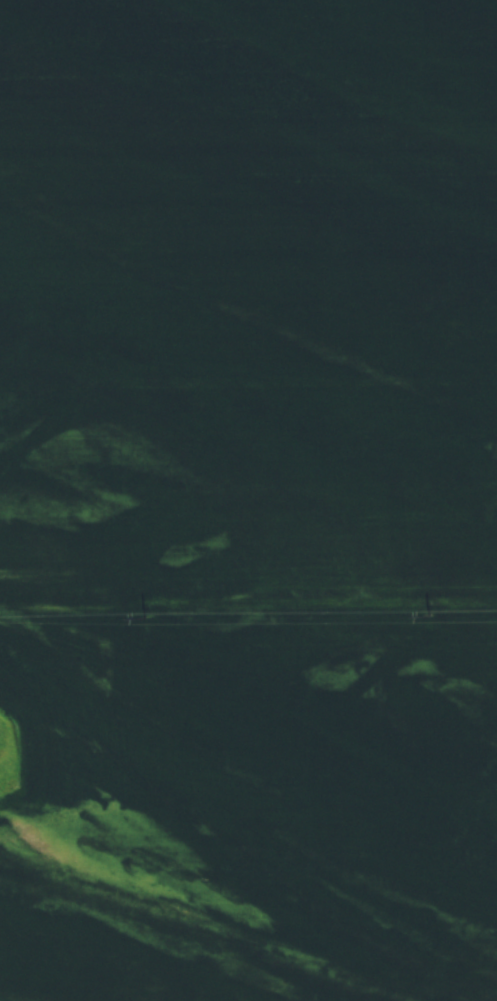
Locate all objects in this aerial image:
power tower: (430, 615)
power tower: (146, 616)

